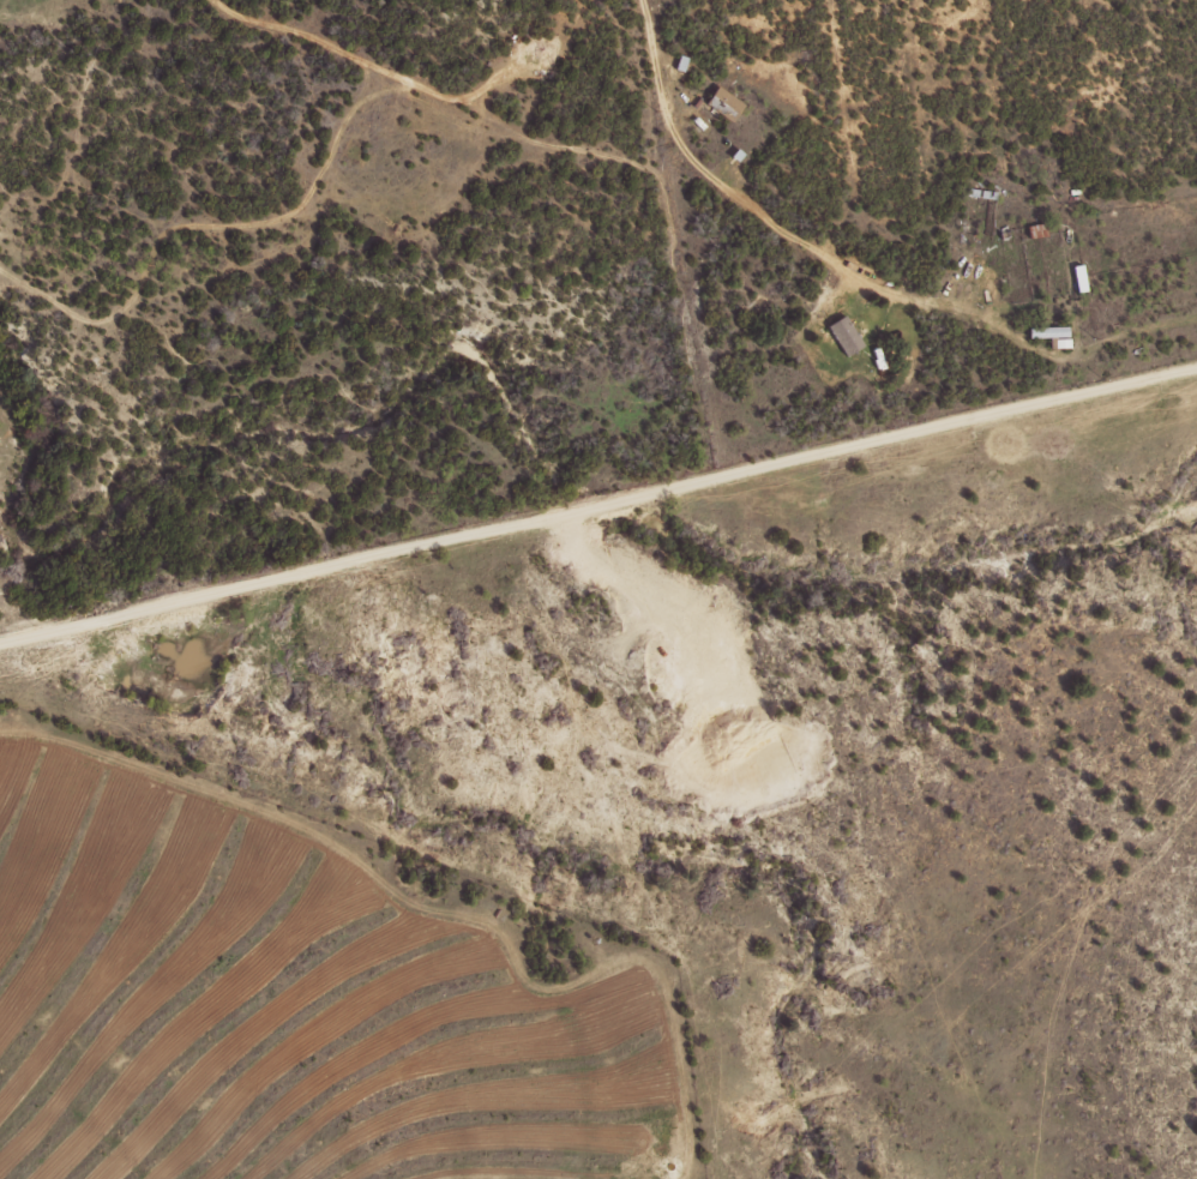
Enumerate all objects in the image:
road: (431, 94)
building: (721, 103)
building: (842, 335)
building: (1048, 335)
road: (598, 507)

